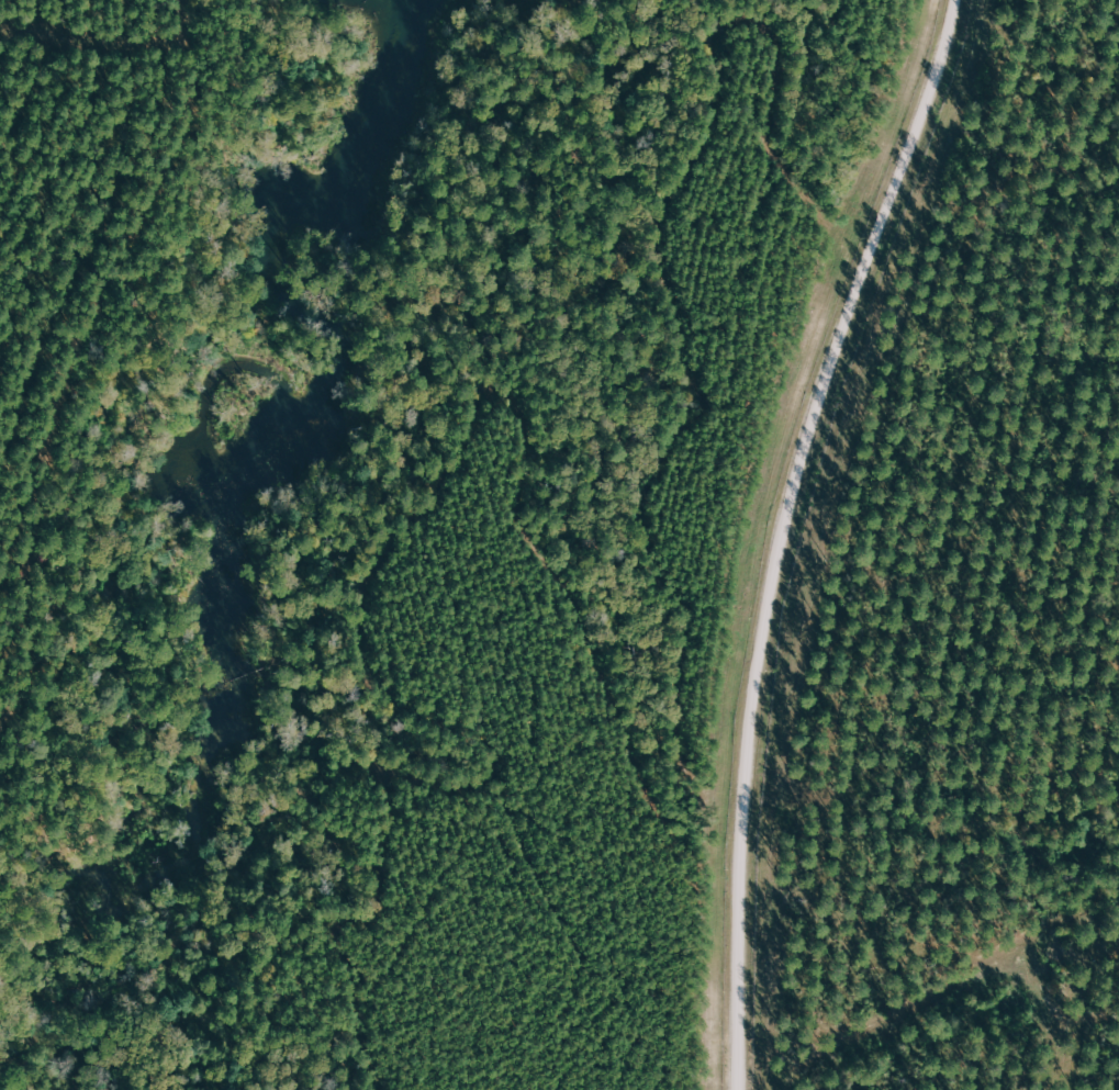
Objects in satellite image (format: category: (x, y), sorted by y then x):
road: (804, 535)

